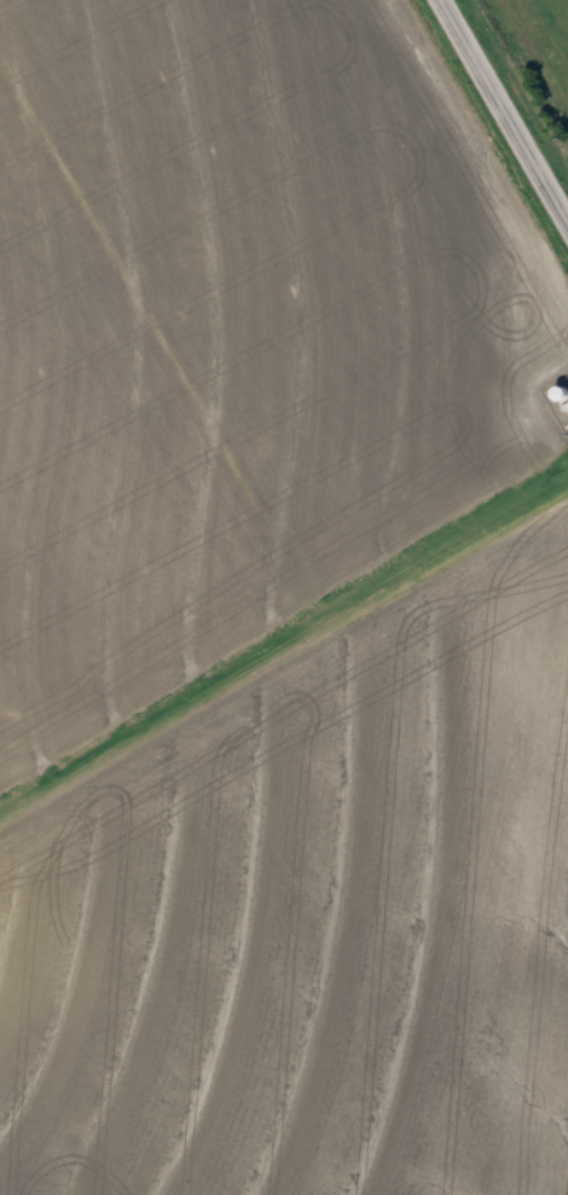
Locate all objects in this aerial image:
road: (506, 103)

